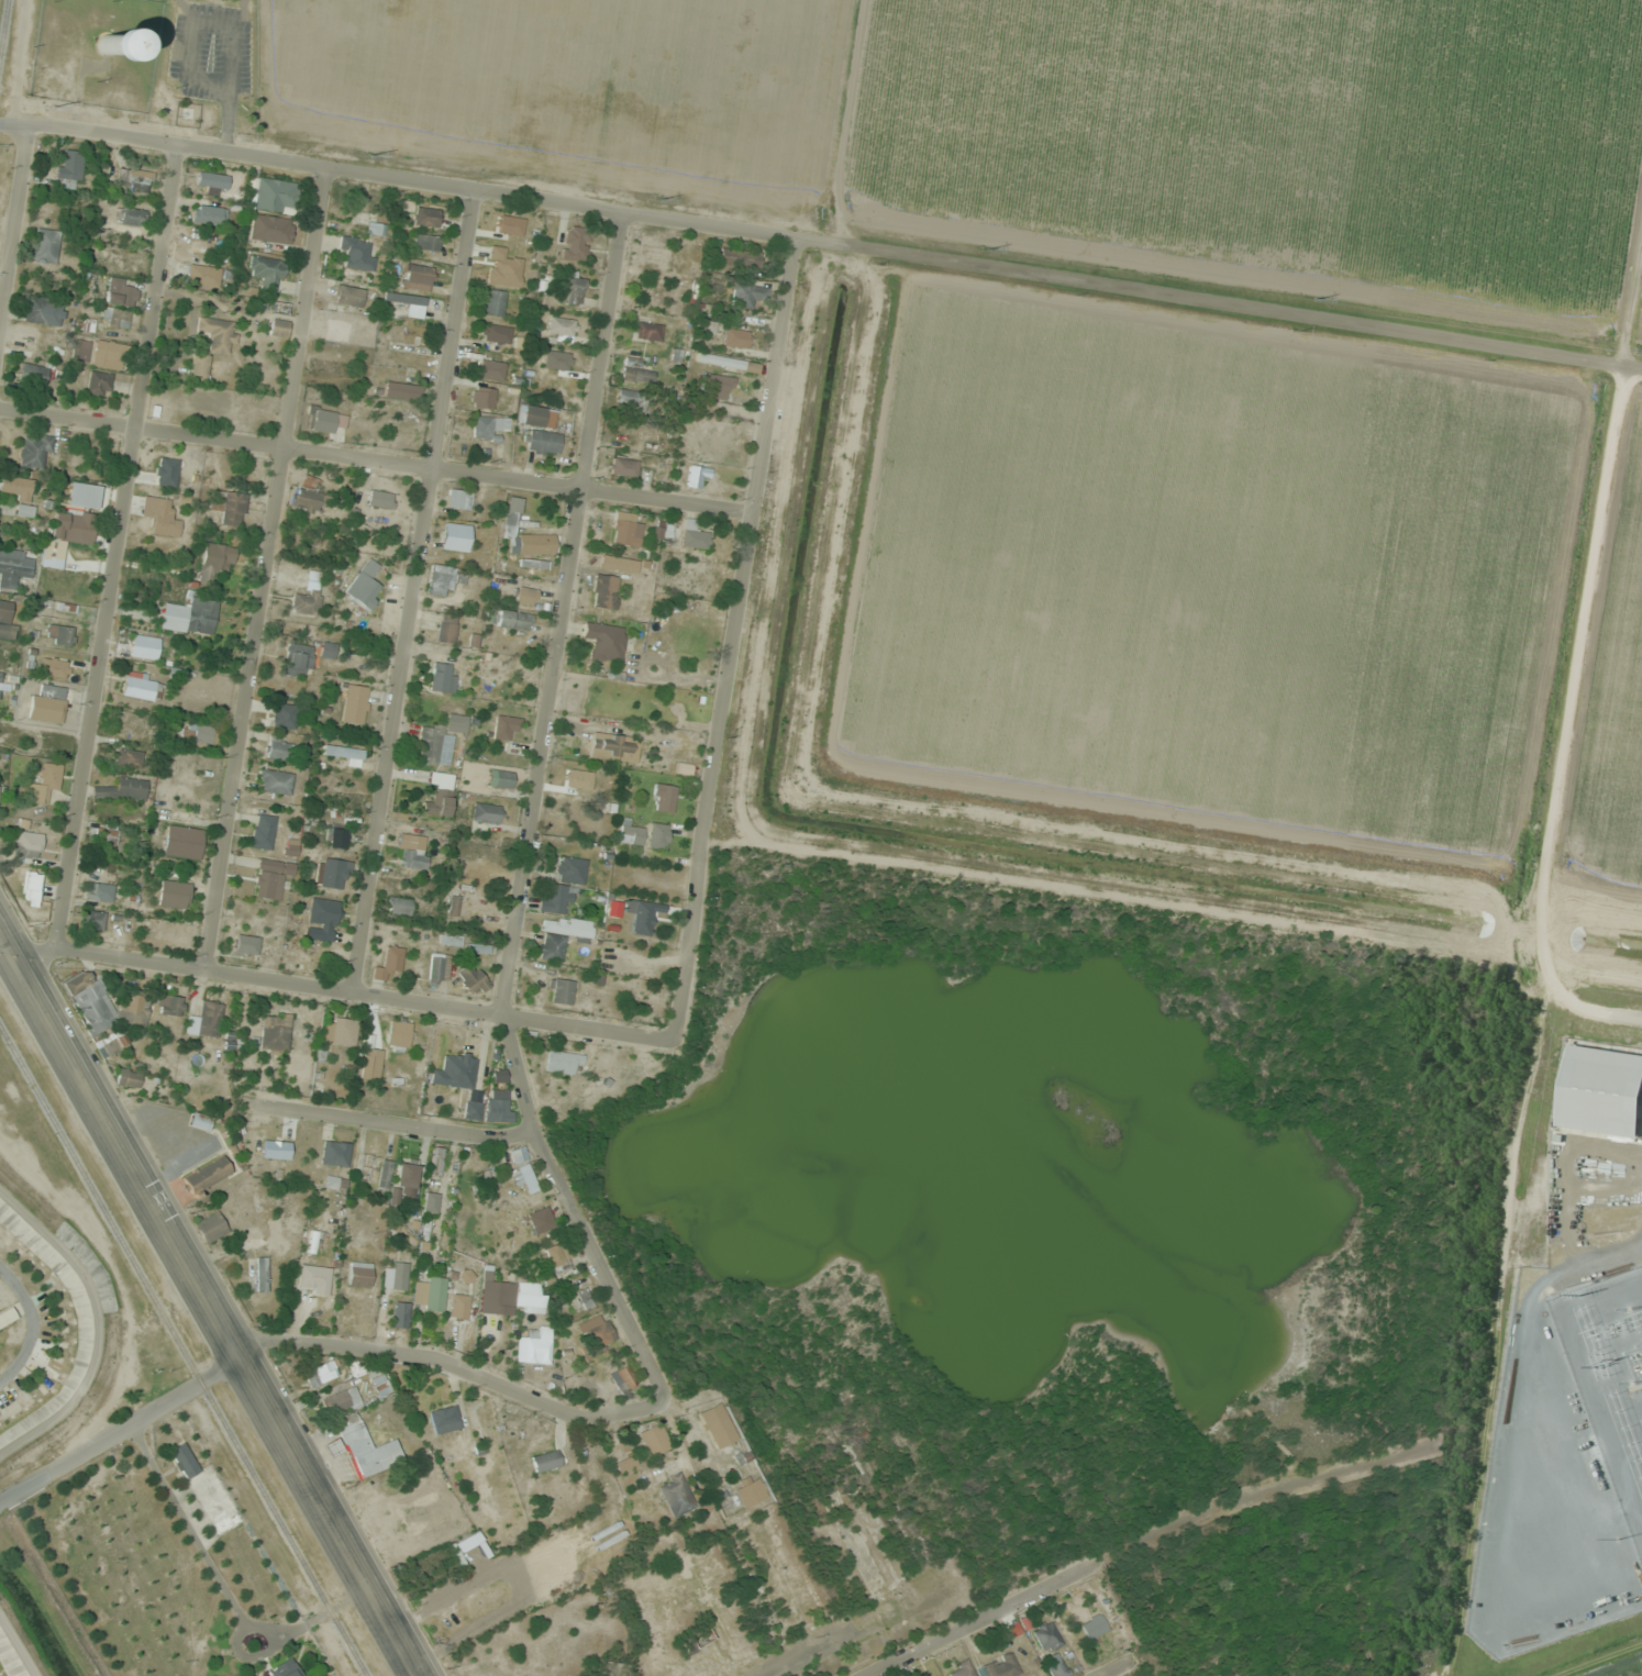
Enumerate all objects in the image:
railway: (3, 26)
building: (107, 44)
building: (71, 166)
road: (397, 176)
building: (133, 180)
building: (212, 180)
building: (271, 195)
building: (209, 214)
building: (132, 217)
building: (425, 217)
road: (13, 222)
building: (510, 226)
building: (270, 229)
building: (375, 229)
building: (426, 242)
building: (575, 242)
building: (45, 246)
building: (356, 253)
building: (657, 256)
building: (739, 258)
building: (266, 273)
building: (207, 274)
building: (418, 277)
building: (506, 278)
building: (572, 290)
building: (121, 291)
building: (751, 296)
building: (403, 298)
road: (1218, 301)
building: (492, 302)
building: (280, 309)
building: (44, 310)
building: (741, 317)
building: (115, 318)
building: (279, 328)
building: (561, 329)
building: (646, 331)
building: (218, 334)
building: (495, 334)
building: (735, 337)
building: (26, 338)
building: (80, 351)
building: (108, 355)
building: (490, 362)
building: (728, 363)
building: (199, 367)
building: (635, 371)
building: (562, 376)
building: (32, 378)
building: (98, 384)
building: (718, 386)
building: (400, 390)
building: (481, 398)
building: (632, 399)
building: (537, 417)
building: (324, 419)
building: (407, 424)
building: (487, 426)
building: (542, 442)
building: (34, 449)
road: (376, 460)
building: (623, 467)
building: (697, 475)
building: (15, 487)
building: (309, 496)
building: (379, 499)
building: (458, 499)
building: (229, 507)
building: (511, 512)
building: (164, 519)
building: (71, 523)
building: (626, 530)
building: (662, 532)
building: (455, 533)
building: (694, 535)
road: (115, 546)
building: (214, 560)
building: (532, 563)
building: (618, 563)
road: (266, 567)
building: (13, 569)
building: (444, 579)
building: (365, 584)
road: (414, 589)
building: (604, 591)
building: (524, 596)
building: (307, 598)
road: (562, 610)
building: (190, 617)
building: (5, 620)
building: (512, 622)
building: (446, 629)
building: (60, 634)
road: (733, 639)
building: (604, 641)
building: (144, 647)
building: (297, 662)
building: (55, 667)
building: (0, 675)
building: (443, 677)
building: (142, 687)
building: (52, 702)
building: (354, 703)
building: (679, 708)
building: (284, 715)
building: (457, 723)
building: (506, 728)
building: (201, 733)
building: (433, 744)
building: (278, 747)
building: (614, 747)
building: (678, 747)
building: (345, 754)
building: (127, 758)
building: (500, 778)
building: (276, 781)
building: (45, 784)
building: (585, 785)
building: (123, 788)
building: (664, 798)
building: (440, 802)
building: (487, 813)
building: (263, 831)
building: (104, 834)
building: (630, 834)
building: (657, 835)
building: (339, 837)
building: (182, 842)
building: (291, 846)
building: (26, 850)
building: (413, 851)
building: (569, 869)
building: (331, 873)
building: (270, 878)
building: (98, 892)
building: (174, 894)
building: (555, 899)
building: (454, 904)
building: (399, 906)
building: (640, 914)
building: (322, 919)
building: (92, 920)
building: (558, 935)
building: (246, 944)
building: (392, 958)
building: (303, 959)
building: (440, 967)
building: (473, 979)
road: (343, 988)
building: (561, 991)
building: (101, 1003)
building: (170, 1005)
building: (206, 1020)
building: (275, 1031)
building: (340, 1031)
building: (399, 1035)
building: (113, 1043)
building: (563, 1062)
building: (370, 1064)
building: (456, 1070)
building: (129, 1078)
building: (1602, 1092)
building: (499, 1106)
building: (473, 1111)
building: (200, 1121)
road: (392, 1123)
building: (335, 1153)
building: (518, 1154)
building: (436, 1161)
building: (407, 1173)
building: (207, 1175)
building: (385, 1175)
building: (524, 1177)
building: (336, 1183)
building: (431, 1202)
road: (573, 1209)
building: (541, 1220)
building: (211, 1227)
building: (555, 1255)
building: (359, 1273)
building: (262, 1274)
building: (399, 1276)
building: (313, 1278)
building: (430, 1294)
building: (496, 1296)
building: (530, 1298)
building: (586, 1298)
road: (212, 1302)
building: (459, 1306)
building: (400, 1314)
building: (5, 1316)
road: (91, 1321)
road: (30, 1323)
building: (599, 1339)
building: (534, 1345)
railway: (184, 1351)
road: (457, 1365)
building: (359, 1368)
building: (321, 1373)
power substation: (1609, 1375)
building: (624, 1379)
building: (341, 1401)
building: (445, 1419)
building: (718, 1425)
road: (122, 1428)
building: (654, 1439)
building: (367, 1443)
road: (3, 1446)
building: (333, 1446)
building: (184, 1459)
building: (547, 1459)
building: (751, 1491)
building: (676, 1495)
building: (215, 1500)
road: (1135, 1541)
building: (455, 1606)
building: (1094, 1627)
building: (1046, 1635)
building: (696, 1639)
road: (14, 1651)
building: (1056, 1665)
building: (1000, 1666)
road: (1113, 1667)
building: (962, 1669)
building: (281, 1671)

